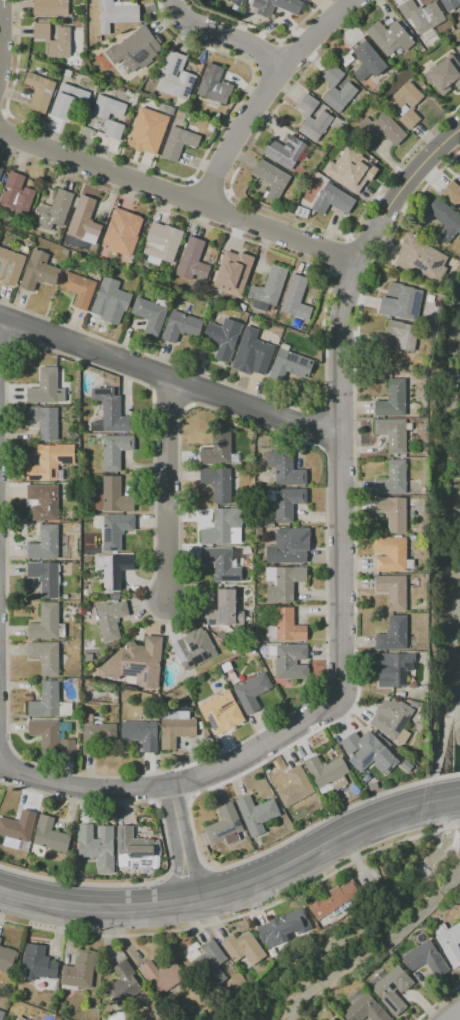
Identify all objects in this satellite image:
building: (234, 2)
building: (451, 5)
building: (276, 6)
building: (50, 8)
building: (115, 14)
building: (421, 16)
road: (229, 34)
road: (0, 35)
building: (389, 37)
building: (61, 40)
building: (458, 48)
building: (134, 49)
building: (366, 60)
building: (444, 75)
building: (175, 77)
building: (214, 85)
building: (348, 89)
building: (39, 92)
road: (270, 93)
building: (67, 101)
building: (394, 106)
building: (104, 119)
building: (323, 119)
building: (381, 128)
building: (147, 130)
building: (178, 143)
building: (284, 151)
building: (1, 171)
building: (345, 171)
building: (458, 172)
building: (270, 179)
building: (452, 194)
building: (16, 196)
road: (177, 201)
building: (332, 201)
building: (53, 211)
building: (301, 212)
building: (83, 219)
building: (444, 219)
building: (122, 232)
building: (162, 242)
building: (65, 252)
building: (421, 259)
building: (192, 261)
building: (10, 266)
building: (38, 271)
building: (225, 273)
building: (78, 289)
building: (268, 289)
building: (109, 298)
building: (295, 298)
building: (401, 302)
building: (149, 315)
building: (180, 326)
building: (402, 334)
building: (222, 337)
building: (256, 353)
building: (289, 365)
road: (169, 377)
building: (45, 388)
building: (392, 399)
building: (109, 413)
building: (44, 421)
building: (392, 434)
building: (217, 448)
building: (114, 451)
building: (50, 462)
building: (285, 468)
building: (392, 479)
building: (217, 483)
road: (339, 487)
road: (167, 490)
building: (111, 496)
building: (43, 502)
building: (287, 503)
building: (392, 513)
building: (223, 527)
building: (113, 530)
building: (44, 544)
building: (288, 546)
building: (391, 555)
building: (84, 557)
building: (220, 565)
building: (112, 569)
building: (44, 578)
building: (282, 583)
building: (393, 591)
building: (109, 596)
building: (224, 610)
building: (109, 620)
building: (45, 623)
building: (286, 627)
building: (392, 635)
building: (193, 649)
building: (44, 657)
building: (136, 662)
building: (290, 662)
building: (395, 667)
building: (251, 692)
building: (48, 702)
building: (220, 712)
building: (393, 722)
building: (174, 729)
building: (95, 734)
building: (140, 734)
building: (45, 735)
building: (66, 746)
building: (371, 752)
building: (326, 772)
road: (447, 776)
road: (80, 786)
building: (294, 788)
road: (445, 797)
building: (255, 814)
road: (318, 822)
building: (18, 826)
building: (223, 827)
road: (443, 829)
building: (49, 836)
road: (180, 843)
building: (97, 846)
building: (136, 850)
road: (311, 850)
building: (6, 853)
road: (185, 876)
road: (83, 883)
building: (457, 891)
building: (333, 901)
road: (94, 905)
road: (221, 921)
building: (283, 928)
building: (0, 939)
building: (449, 942)
building: (243, 948)
road: (378, 951)
building: (7, 959)
building: (425, 959)
building: (37, 963)
building: (213, 965)
building: (79, 972)
building: (162, 974)
building: (123, 985)
building: (391, 988)
road: (438, 1002)
building: (364, 1008)
road: (452, 1013)
building: (1, 1015)
building: (20, 1018)
building: (333, 1019)

